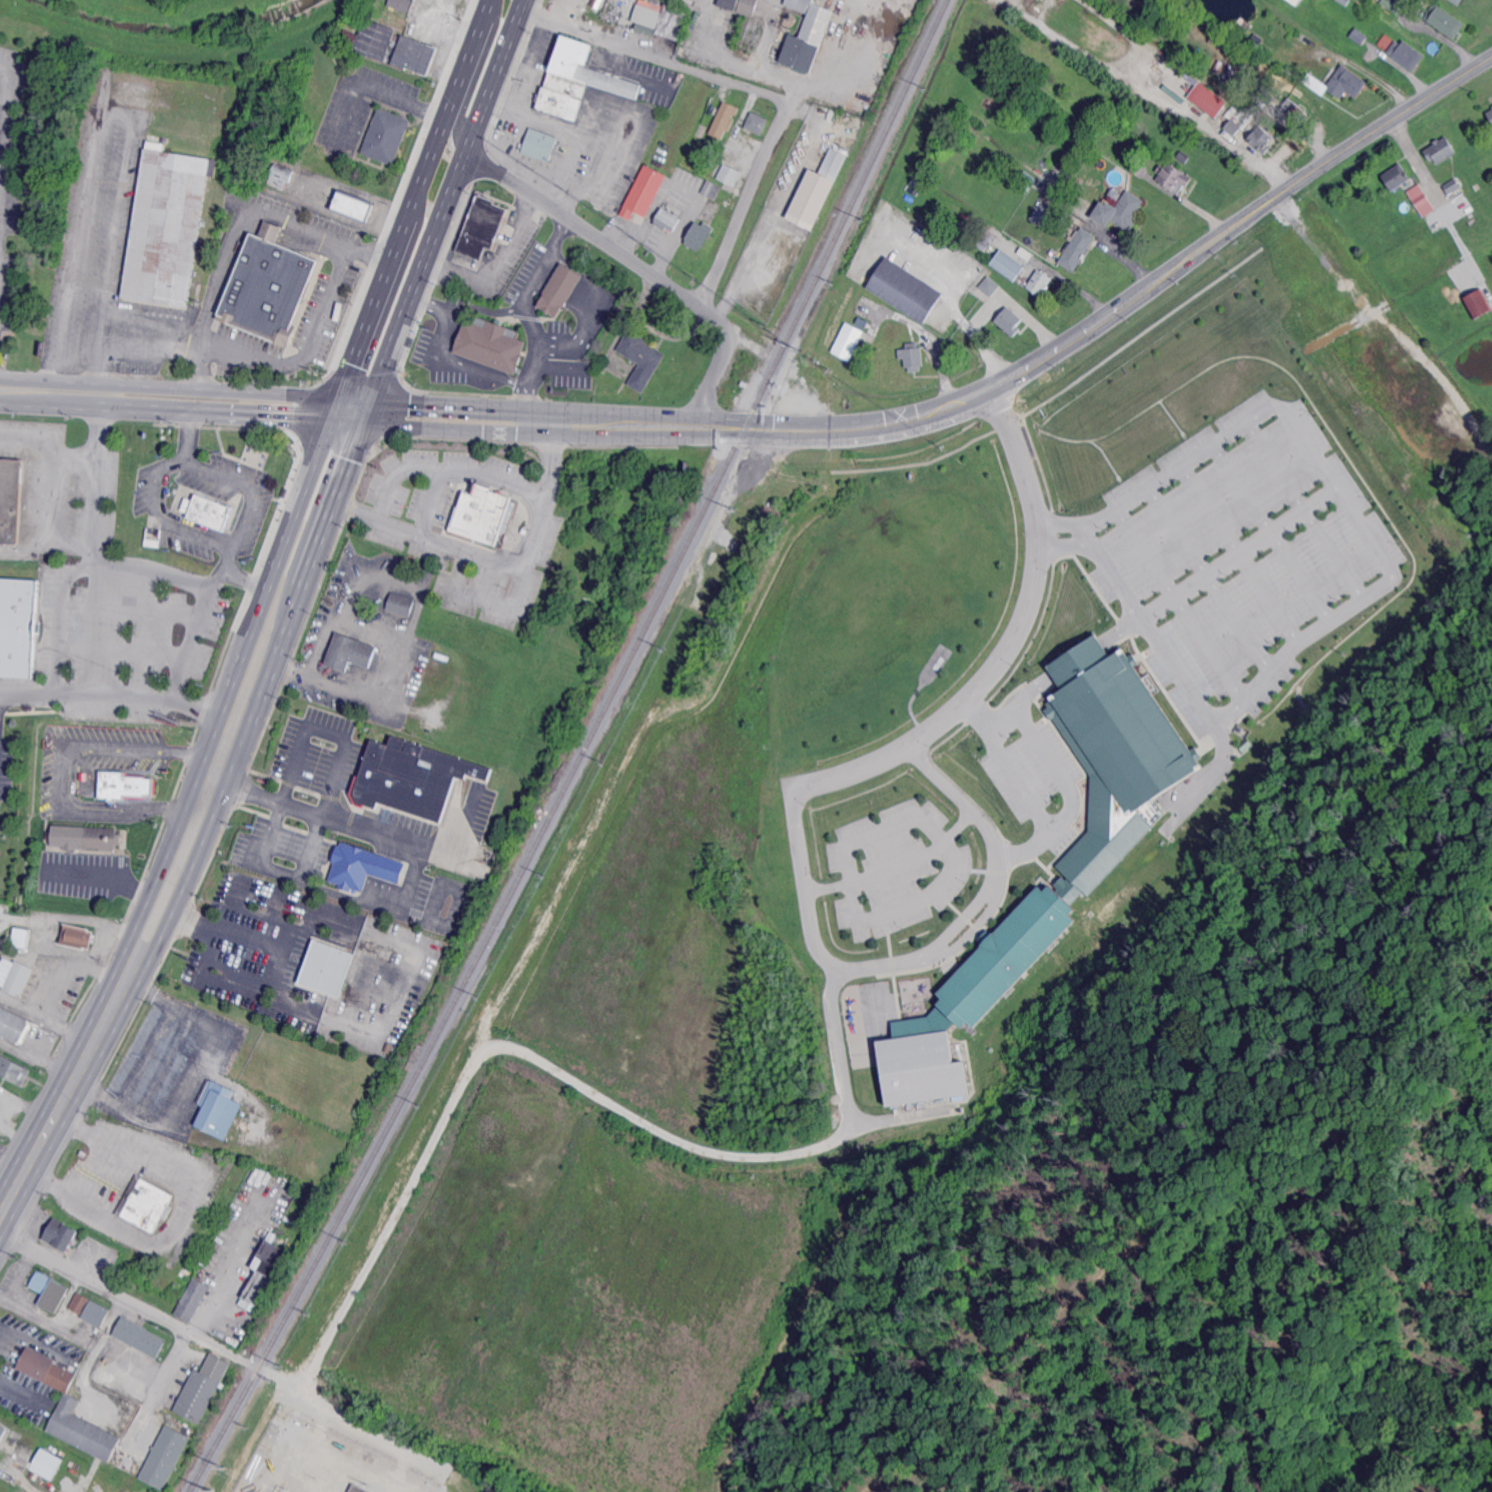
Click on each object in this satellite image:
building: (1293, 2)
building: (1457, 2)
building: (727, 3)
building: (1393, 4)
building: (402, 5)
building: (746, 6)
building: (1169, 15)
building: (658, 18)
building: (1242, 21)
building: (1443, 22)
building: (805, 35)
building: (1359, 36)
building: (1303, 37)
road: (471, 44)
building: (390, 45)
building: (1405, 55)
road: (691, 67)
building: (588, 68)
road: (475, 76)
building: (1345, 83)
building: (1241, 84)
building: (567, 85)
building: (1207, 99)
building: (1259, 100)
building: (560, 103)
building: (1293, 112)
building: (1490, 115)
building: (724, 119)
building: (757, 124)
building: (1248, 129)
road: (564, 131)
road: (91, 133)
building: (387, 136)
road: (5, 137)
building: (731, 142)
road: (1233, 144)
building: (540, 145)
building: (1439, 151)
building: (1183, 155)
road: (2, 156)
building: (1121, 156)
road: (1414, 157)
building: (1140, 169)
building: (726, 172)
building: (283, 173)
building: (1174, 177)
building: (1395, 177)
building: (1408, 183)
building: (1076, 184)
building: (1452, 186)
road: (571, 189)
building: (710, 190)
building: (816, 192)
building: (643, 195)
building: (1420, 200)
road: (749, 203)
building: (355, 207)
building: (1121, 211)
building: (1044, 213)
building: (666, 220)
building: (167, 224)
building: (480, 227)
road: (238, 232)
building: (698, 236)
road: (393, 248)
building: (1078, 249)
building: (1023, 257)
building: (1006, 264)
road: (495, 266)
road: (642, 267)
road: (748, 269)
road: (536, 276)
building: (1040, 282)
building: (989, 285)
building: (269, 286)
building: (559, 289)
road: (589, 290)
building: (904, 290)
road: (948, 296)
building: (1477, 302)
road: (440, 303)
road: (1015, 305)
road: (495, 307)
road: (147, 319)
building: (1010, 321)
road: (530, 322)
road: (441, 329)
road: (102, 332)
road: (1134, 335)
building: (846, 338)
building: (410, 341)
building: (492, 343)
road: (165, 349)
road: (388, 349)
road: (128, 350)
road: (187, 350)
road: (308, 352)
building: (911, 357)
building: (642, 358)
road: (480, 368)
road: (94, 372)
road: (526, 380)
building: (745, 383)
road: (474, 391)
road: (166, 400)
road: (962, 401)
traffic signals: (333, 410)
traffic signals: (366, 411)
road: (183, 428)
road: (528, 440)
road: (48, 444)
road: (917, 461)
road: (1037, 461)
road: (310, 468)
road: (242, 487)
building: (284, 491)
building: (11, 500)
road: (1303, 508)
building: (207, 511)
building: (481, 514)
road: (155, 517)
parking lot: (469, 524)
road: (1065, 524)
road: (1271, 529)
road: (1041, 531)
road: (1085, 532)
road: (1063, 540)
road: (1236, 551)
road: (1237, 551)
parking lot: (1238, 554)
road: (222, 556)
road: (501, 562)
road: (153, 568)
road: (1208, 574)
road: (1381, 581)
road: (57, 592)
road: (1178, 600)
building: (399, 603)
road: (256, 608)
building: (18, 626)
road: (1121, 628)
road: (197, 632)
road: (1007, 645)
building: (348, 651)
road: (1075, 657)
road: (1004, 677)
road: (1028, 688)
road: (26, 691)
road: (326, 730)
building: (1114, 751)
railway: (583, 753)
road: (1044, 753)
parking lot: (5, 767)
parking lot: (1029, 767)
road: (61, 769)
road: (1206, 775)
building: (411, 776)
road: (937, 776)
road: (192, 779)
parking lot: (58, 781)
building: (123, 784)
road: (1021, 787)
road: (329, 813)
road: (910, 814)
road: (210, 820)
building: (101, 839)
road: (1005, 852)
road: (894, 864)
road: (1043, 865)
building: (359, 867)
parking lot: (896, 867)
road: (987, 868)
road: (275, 869)
parking lot: (86, 874)
road: (102, 874)
road: (992, 897)
road: (372, 898)
road: (68, 918)
road: (956, 921)
road: (809, 929)
road: (228, 932)
road: (972, 934)
building: (21, 937)
building: (77, 939)
building: (325, 967)
building: (13, 977)
building: (217, 986)
road: (898, 993)
road: (105, 994)
road: (896, 995)
building: (972, 998)
road: (900, 1010)
building: (13, 1027)
road: (110, 1033)
building: (389, 1048)
road: (164, 1065)
building: (13, 1070)
road: (556, 1078)
building: (218, 1111)
road: (26, 1169)
building: (146, 1203)
road: (179, 1215)
building: (60, 1237)
road: (89, 1262)
building: (264, 1276)
building: (49, 1292)
road: (118, 1296)
building: (192, 1301)
building: (79, 1305)
building: (96, 1315)
building: (139, 1338)
building: (47, 1369)
road: (159, 1389)
building: (202, 1389)
road: (346, 1420)
building: (1, 1428)
building: (83, 1431)
building: (2, 1433)
building: (166, 1457)
power substation: (320, 1463)
power tower: (225, 1466)
building: (45, 1467)
building: (356, 1488)
power tower: (212, 1489)

